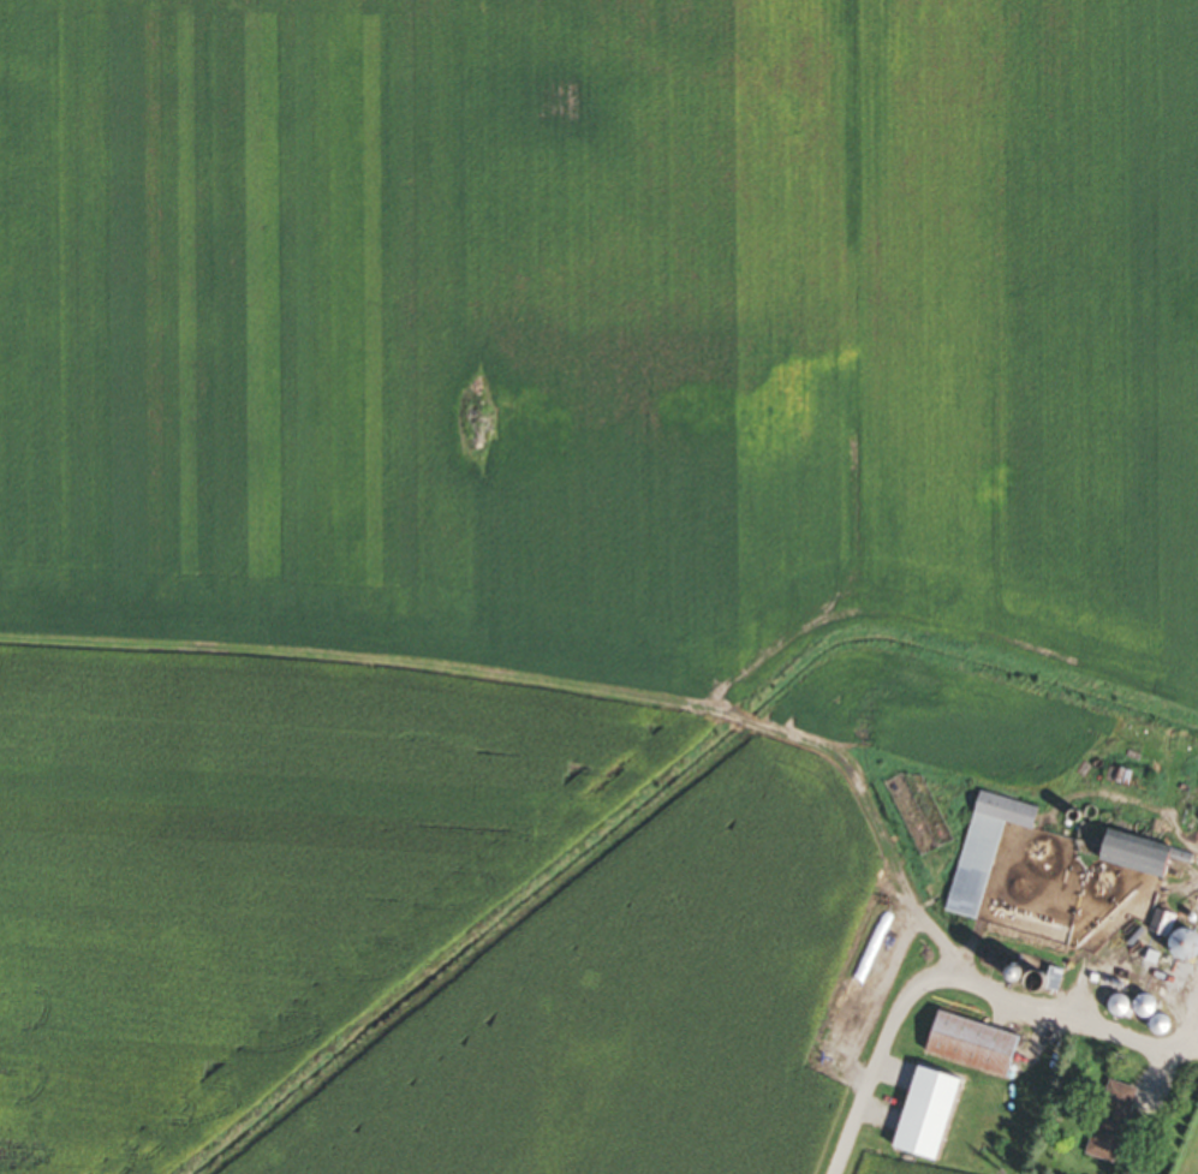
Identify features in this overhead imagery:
building: (1197, 823)
building: (979, 852)
building: (1125, 857)
building: (1172, 947)
road: (955, 973)
road: (1190, 1023)
building: (967, 1047)
building: (917, 1116)
building: (1105, 1124)

